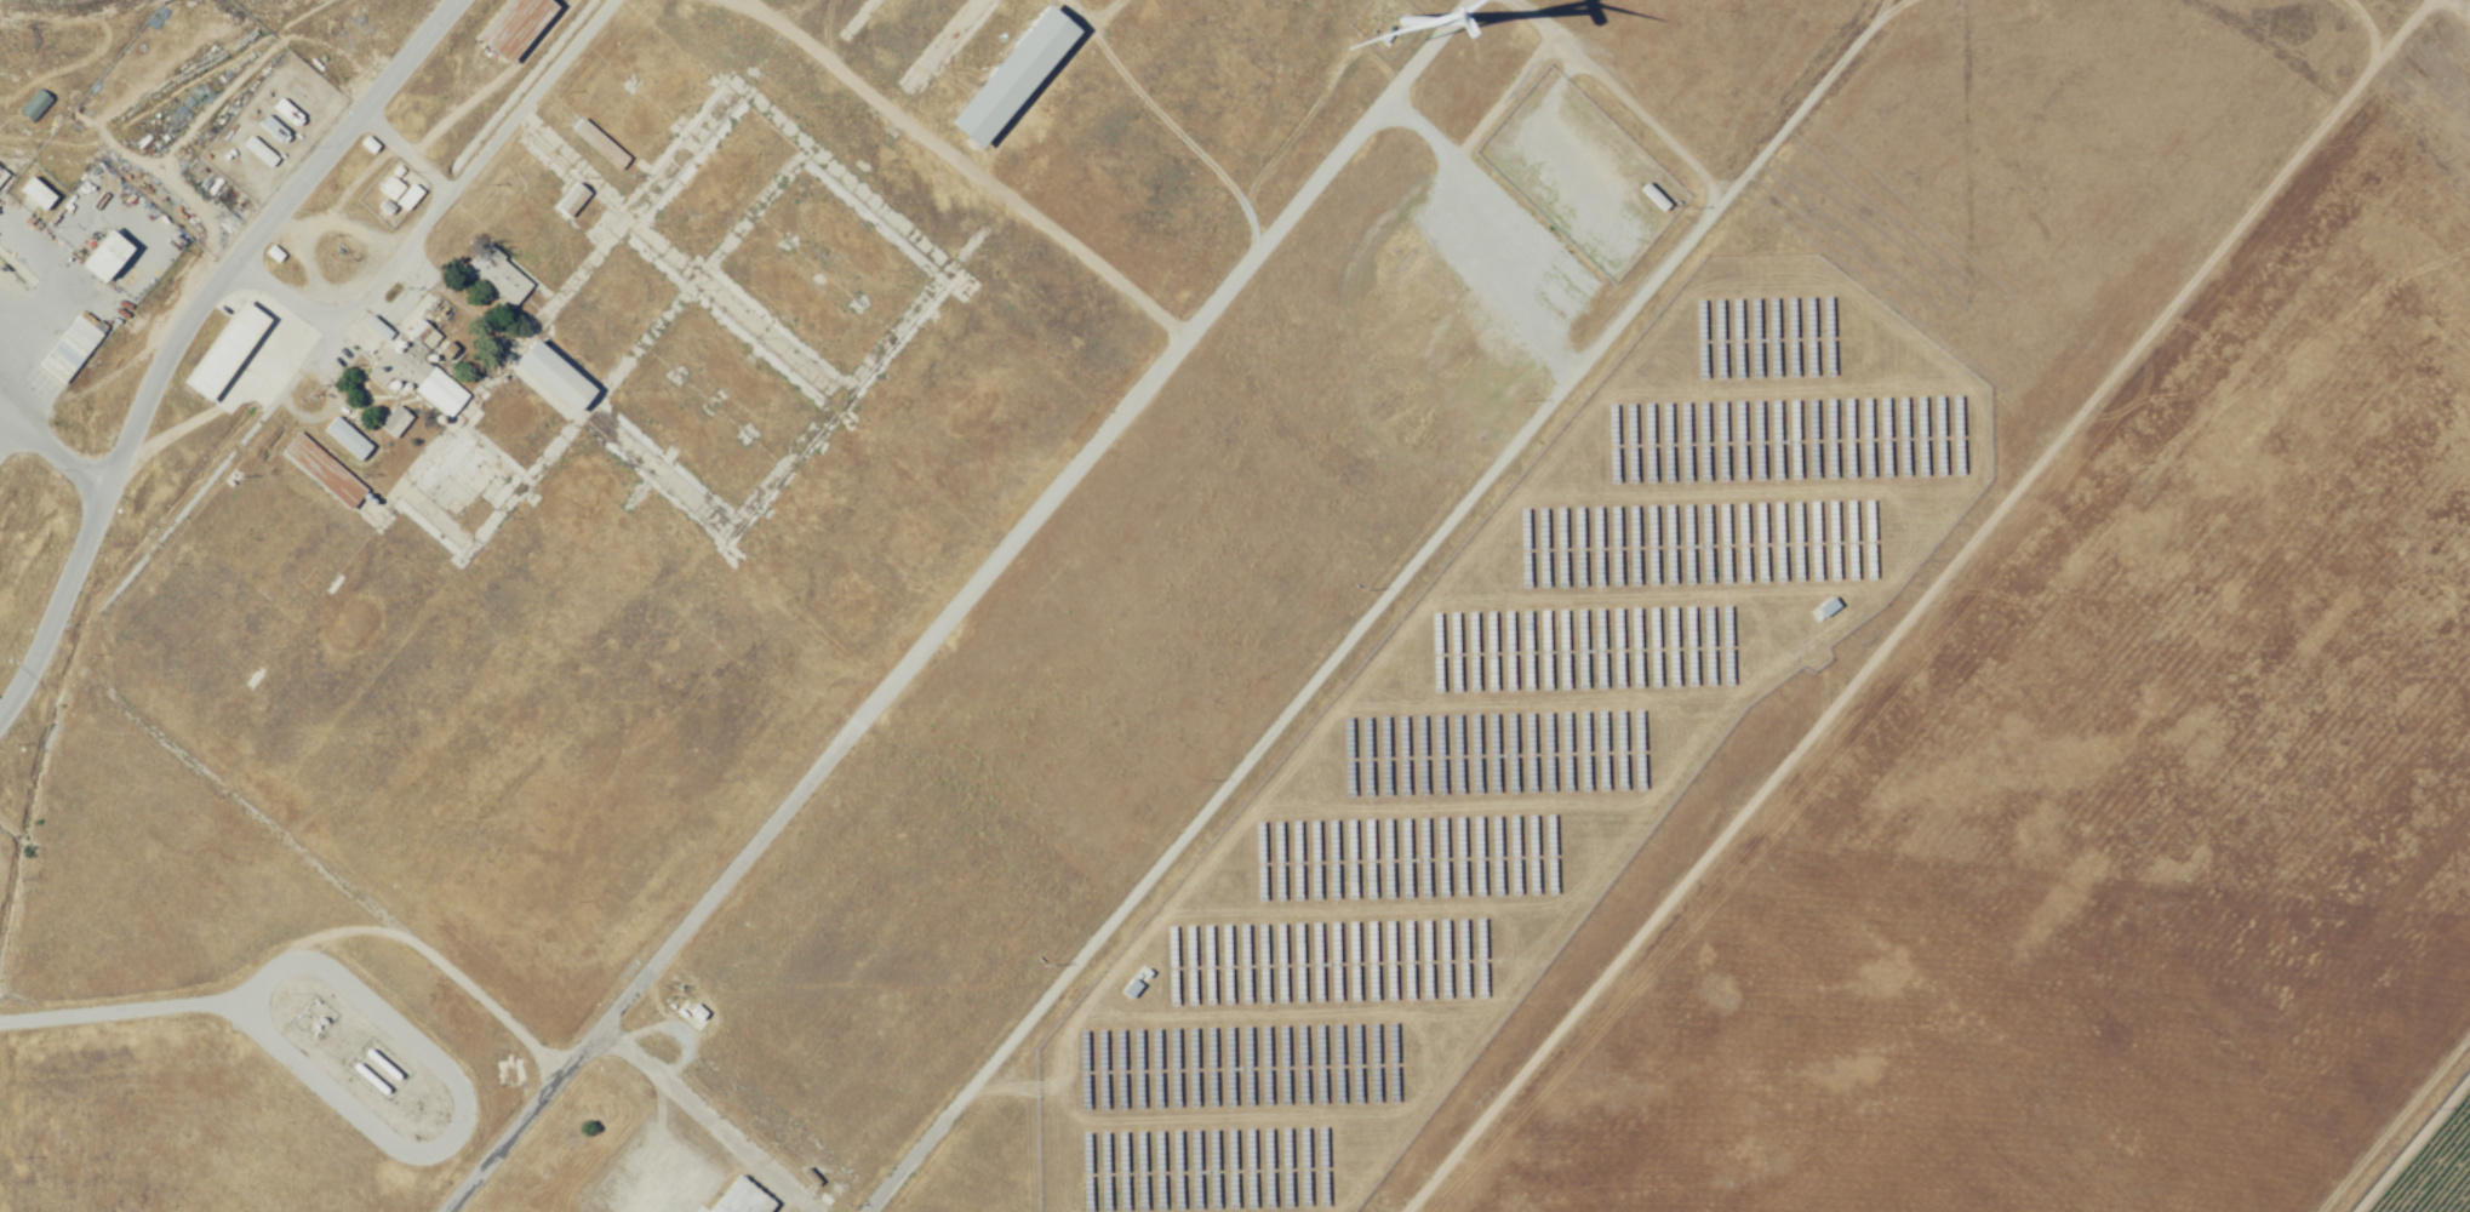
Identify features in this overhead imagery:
building: (511, 27)
wind turbine: (1397, 28)
building: (1008, 76)
building: (267, 124)
building: (599, 144)
building: (259, 151)
building: (0, 178)
building: (390, 188)
building: (33, 193)
building: (1653, 196)
building: (408, 198)
building: (571, 201)
building: (102, 256)
building: (497, 278)
road: (182, 328)
building: (422, 335)
building: (223, 350)
building: (446, 351)
building: (553, 373)
building: (439, 391)
building: (345, 438)
building: (321, 470)
road: (957, 605)
road: (1915, 606)
building: (688, 1013)
road: (2392, 1120)
road: (2412, 1144)
crop: (2430, 1165)
building: (741, 1199)

